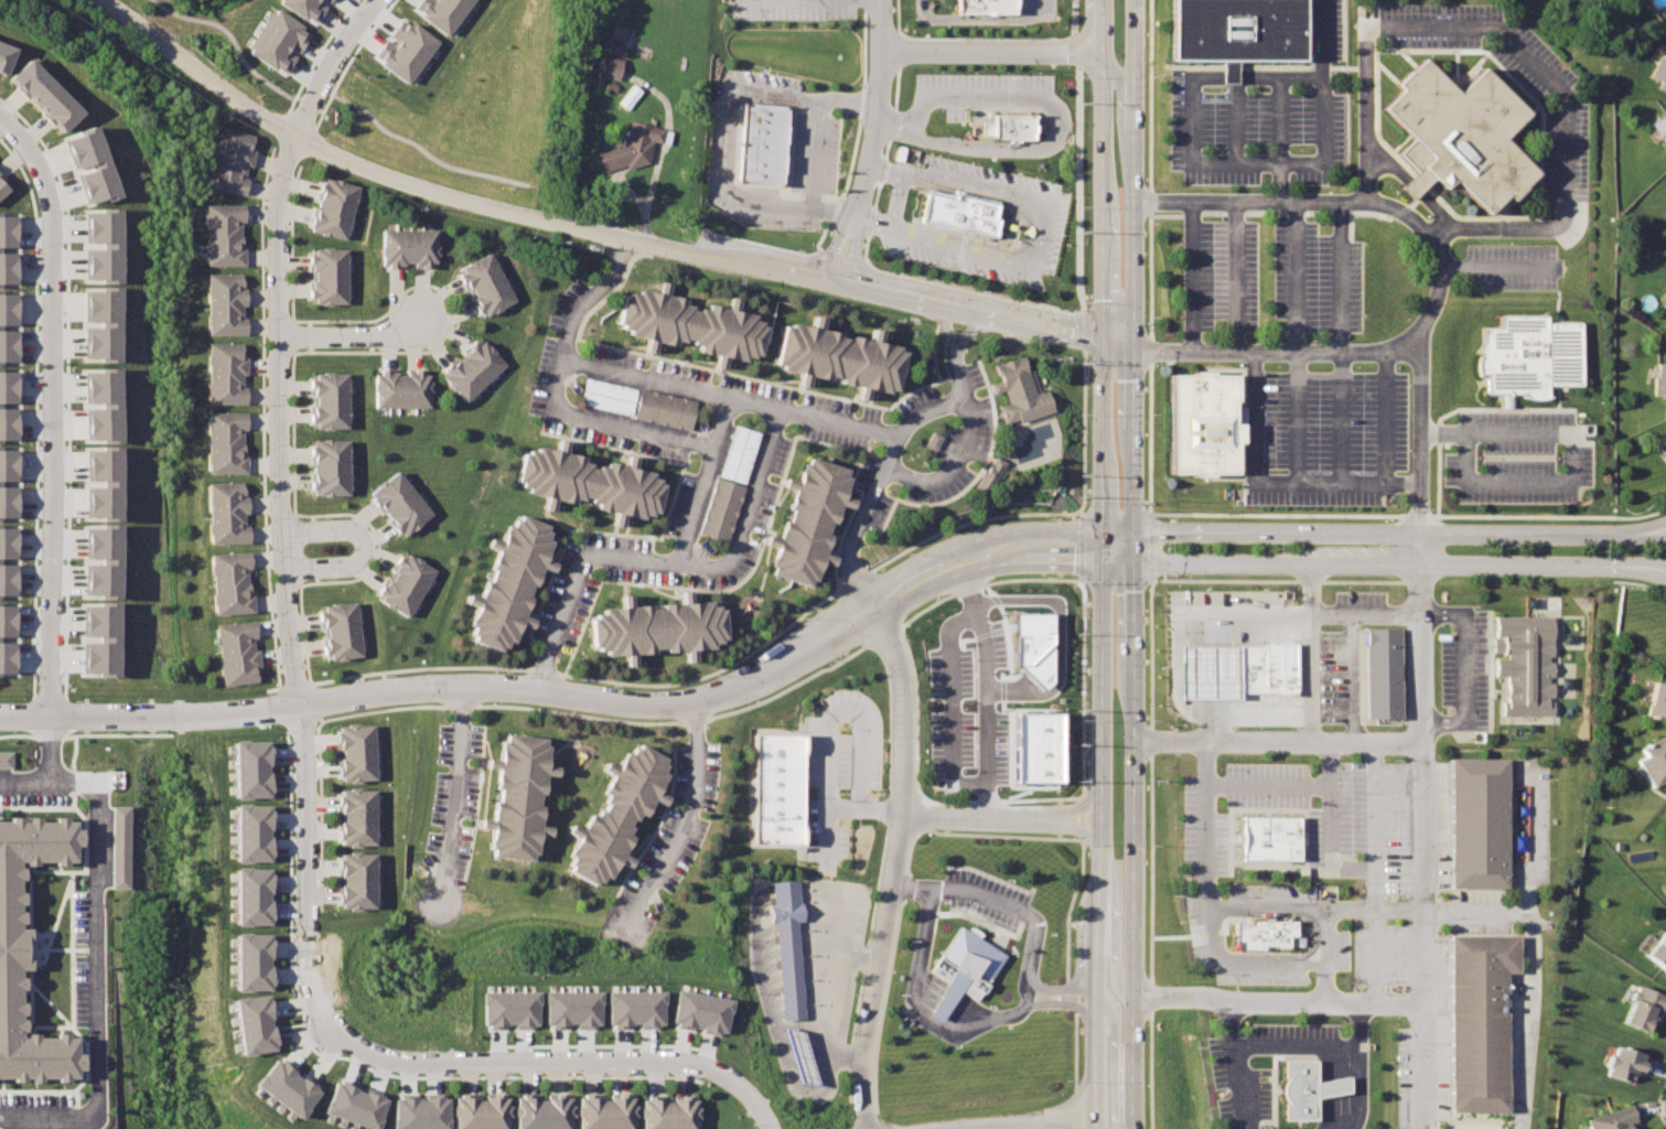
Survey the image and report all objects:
building: (330, 0)
building: (984, 6)
building: (303, 7)
parking lot: (799, 9)
building: (441, 10)
parking lot: (1039, 11)
road: (965, 18)
building: (1234, 30)
building: (617, 32)
building: (272, 36)
building: (407, 44)
road: (993, 47)
road: (1516, 47)
building: (3, 53)
building: (609, 66)
building: (1659, 69)
parking lot: (767, 74)
parking lot: (984, 89)
building: (42, 95)
road: (733, 95)
road: (1239, 95)
road: (849, 97)
road: (819, 106)
road: (7, 108)
parking lot: (1262, 116)
road: (1280, 118)
building: (1004, 120)
road: (916, 121)
road: (1326, 127)
road: (1189, 129)
building: (1660, 129)
road: (32, 133)
building: (1455, 136)
building: (761, 138)
road: (871, 141)
parking lot: (816, 144)
road: (984, 147)
building: (631, 150)
road: (13, 158)
building: (87, 161)
building: (229, 161)
road: (1078, 165)
road: (882, 169)
building: (1, 190)
road: (1343, 198)
road: (894, 200)
road: (809, 205)
building: (332, 207)
road: (831, 207)
building: (953, 207)
road: (870, 221)
parking lot: (1046, 225)
road: (594, 228)
road: (1038, 232)
building: (219, 234)
building: (97, 240)
building: (7, 245)
building: (406, 247)
road: (1191, 275)
road: (1234, 275)
road: (1339, 275)
building: (325, 276)
parking lot: (1218, 277)
parking lot: (1316, 278)
building: (483, 282)
building: (219, 303)
building: (95, 320)
building: (689, 320)
building: (7, 323)
road: (353, 336)
traffic signals: (1103, 337)
road: (277, 338)
traffic signals: (1130, 342)
road: (1275, 351)
building: (839, 354)
building: (1529, 355)
building: (467, 369)
building: (219, 374)
building: (1657, 381)
building: (398, 388)
building: (1018, 391)
road: (729, 395)
building: (608, 396)
building: (93, 399)
building: (326, 399)
building: (7, 401)
building: (664, 408)
road: (52, 410)
road: (1340, 416)
road: (1380, 416)
road: (721, 421)
building: (1199, 423)
road: (966, 424)
parking lot: (1323, 436)
building: (219, 443)
building: (1664, 443)
road: (711, 445)
building: (740, 453)
parking lot: (1518, 456)
road: (1566, 458)
building: (325, 465)
building: (988, 474)
building: (93, 477)
building: (6, 479)
road: (1272, 479)
building: (584, 482)
road: (878, 487)
building: (395, 502)
building: (720, 507)
road: (750, 510)
building: (219, 512)
building: (808, 518)
road: (1398, 533)
road: (364, 545)
traffic signals: (1104, 545)
traffic signals: (1135, 545)
building: (6, 557)
building: (95, 557)
road: (1647, 561)
road: (1397, 562)
road: (1133, 563)
road: (1104, 564)
building: (501, 580)
building: (223, 582)
building: (399, 582)
building: (1175, 599)
building: (654, 625)
building: (337, 632)
building: (6, 633)
building: (93, 634)
road: (1310, 652)
building: (234, 656)
building: (1249, 665)
building: (1523, 668)
building: (1383, 670)
road: (990, 685)
road: (729, 690)
building: (1657, 699)
building: (945, 702)
road: (1240, 712)
road: (147, 713)
road: (1421, 732)
road: (1277, 743)
road: (52, 746)
building: (348, 752)
building: (6, 759)
building: (241, 759)
building: (1655, 761)
parking lot: (843, 766)
road: (26, 776)
building: (778, 785)
road: (448, 794)
building: (510, 794)
road: (866, 811)
building: (611, 813)
road: (1006, 816)
building: (351, 817)
building: (1476, 822)
building: (239, 824)
road: (1204, 826)
road: (681, 827)
building: (1262, 836)
building: (117, 846)
road: (896, 867)
parking lot: (1373, 868)
road: (304, 874)
building: (350, 881)
building: (238, 886)
parking lot: (990, 890)
road: (1264, 907)
road: (1422, 910)
road: (1033, 920)
road: (1113, 921)
building: (1260, 934)
road: (1321, 936)
building: (8, 943)
building: (788, 946)
building: (238, 953)
building: (1658, 953)
building: (970, 957)
road: (1239, 963)
road: (100, 972)
road: (1322, 983)
building: (630, 1001)
road: (1276, 1001)
building: (502, 1002)
road: (836, 1002)
building: (567, 1003)
building: (696, 1004)
building: (1645, 1007)
road: (920, 1012)
building: (243, 1015)
building: (1477, 1017)
road: (1522, 1020)
building: (803, 1056)
road: (1115, 1058)
building: (1625, 1061)
road: (562, 1062)
road: (1225, 1062)
road: (1355, 1067)
building: (273, 1077)
building: (1300, 1087)
building: (344, 1097)
building: (409, 1106)
building: (474, 1108)
building: (663, 1108)
building: (537, 1109)
building: (599, 1109)
building: (1614, 1119)
road: (1033, 1120)
building: (1638, 1128)

